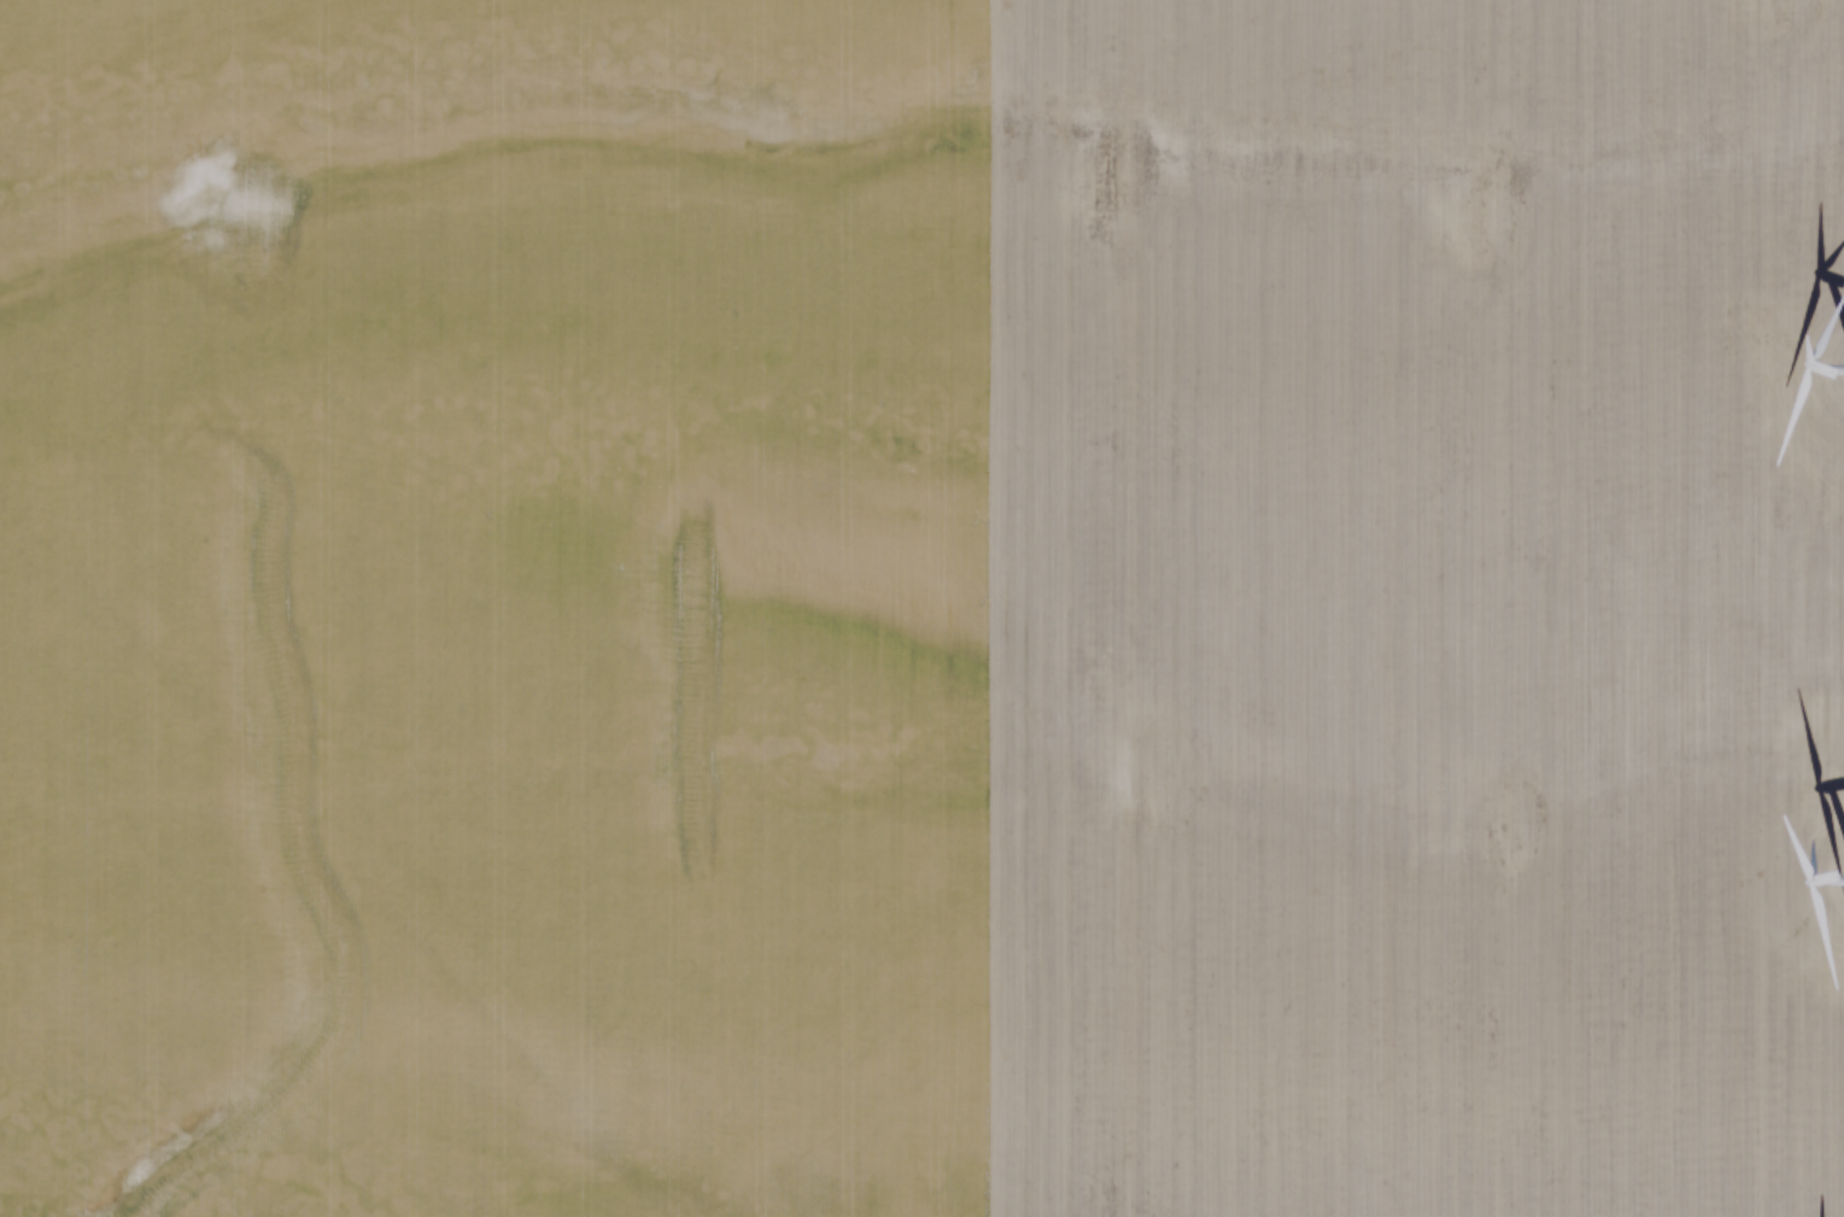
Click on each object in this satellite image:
wind turbine: (1843, 385)
wind turbine: (1836, 887)

